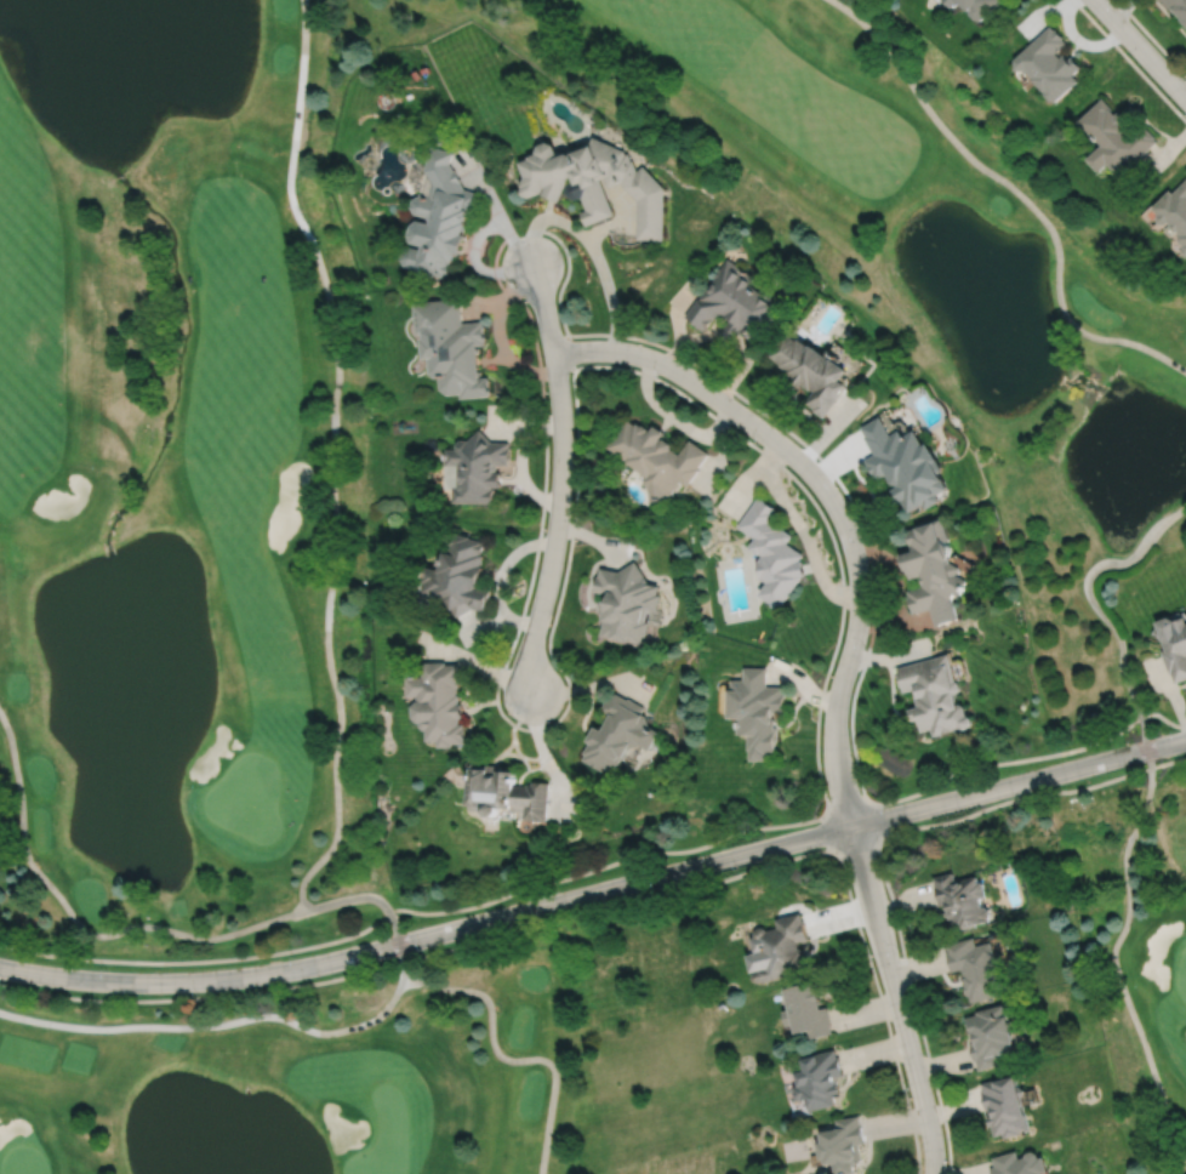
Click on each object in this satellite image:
building: (946, 0)
building: (958, 0)
building: (952, 1)
building: (981, 6)
building: (1178, 6)
fountain: (152, 16)
road: (1151, 36)
road: (1140, 49)
road: (1129, 61)
building: (1049, 62)
fountain: (164, 73)
building: (1116, 136)
building: (597, 179)
road: (1017, 193)
building: (1174, 209)
building: (440, 215)
road: (589, 241)
building: (736, 304)
building: (454, 346)
building: (812, 370)
street lamp: (657, 374)
street lamp: (544, 391)
street lamp: (758, 443)
road: (332, 458)
building: (658, 458)
building: (906, 465)
building: (477, 467)
road: (560, 480)
road: (843, 488)
road: (833, 501)
street lamp: (543, 534)
street lamp: (861, 536)
building: (774, 553)
building: (934, 571)
building: (460, 575)
park: (181, 589)
building: (627, 603)
road: (1096, 605)
road: (552, 620)
building: (1175, 645)
street lamp: (865, 648)
street lamp: (508, 666)
building: (935, 696)
building: (440, 703)
building: (757, 712)
road: (1163, 717)
street lamp: (1173, 729)
building: (620, 734)
road: (1008, 760)
road: (1168, 760)
building: (507, 792)
road: (1014, 798)
street lamp: (885, 804)
road: (848, 810)
road: (856, 840)
road: (604, 865)
street lamp: (736, 868)
street lamp: (657, 889)
street lamp: (555, 890)
road: (597, 893)
building: (963, 897)
road: (380, 902)
road: (617, 902)
road: (79, 925)
building: (780, 947)
street lamp: (424, 948)
street lamp: (897, 951)
street lamp: (293, 956)
road: (1113, 958)
road: (198, 961)
street lamp: (361, 965)
building: (977, 965)
street lamp: (104, 968)
street lamp: (6, 981)
street lamp: (198, 991)
road: (203, 996)
road: (896, 998)
road: (913, 1004)
building: (808, 1008)
road: (882, 1009)
road: (215, 1025)
building: (991, 1033)
road: (509, 1058)
building: (819, 1078)
street lamp: (907, 1088)
building: (1007, 1104)
building: (843, 1144)
building: (1021, 1163)

